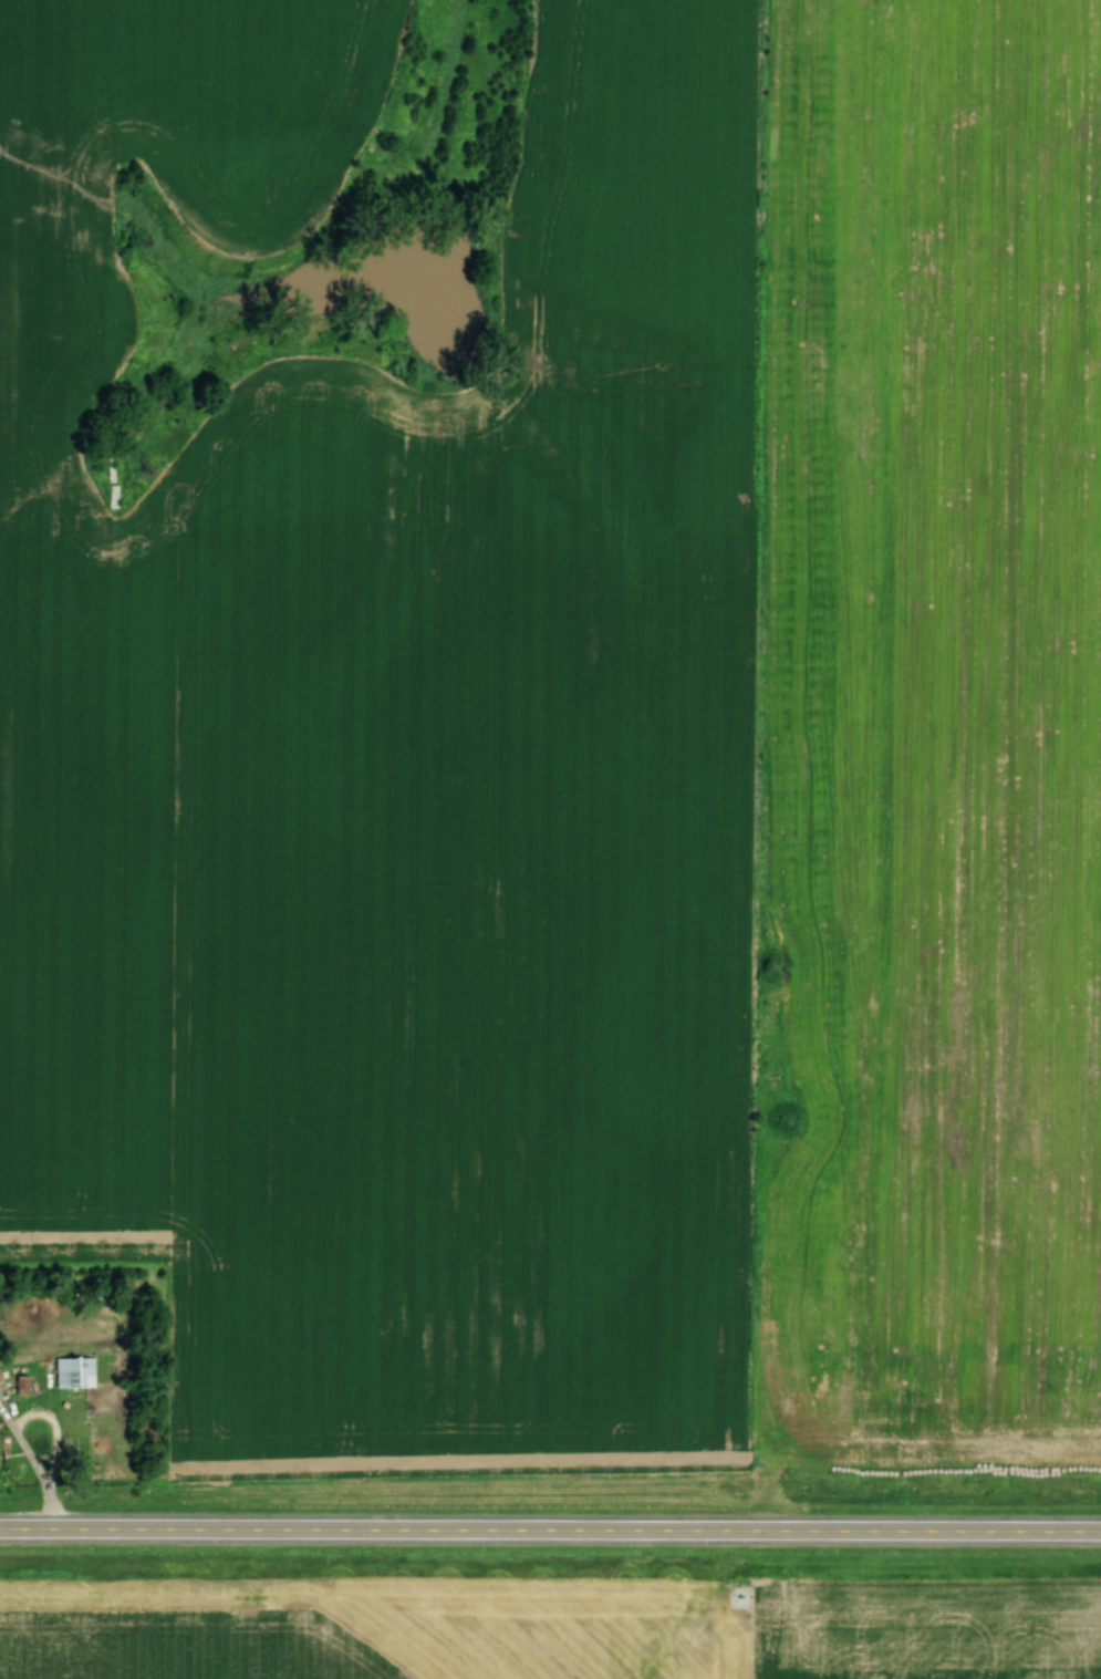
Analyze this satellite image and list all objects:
building: (73, 1371)
road: (51, 1427)
road: (54, 1514)
road: (550, 1534)

